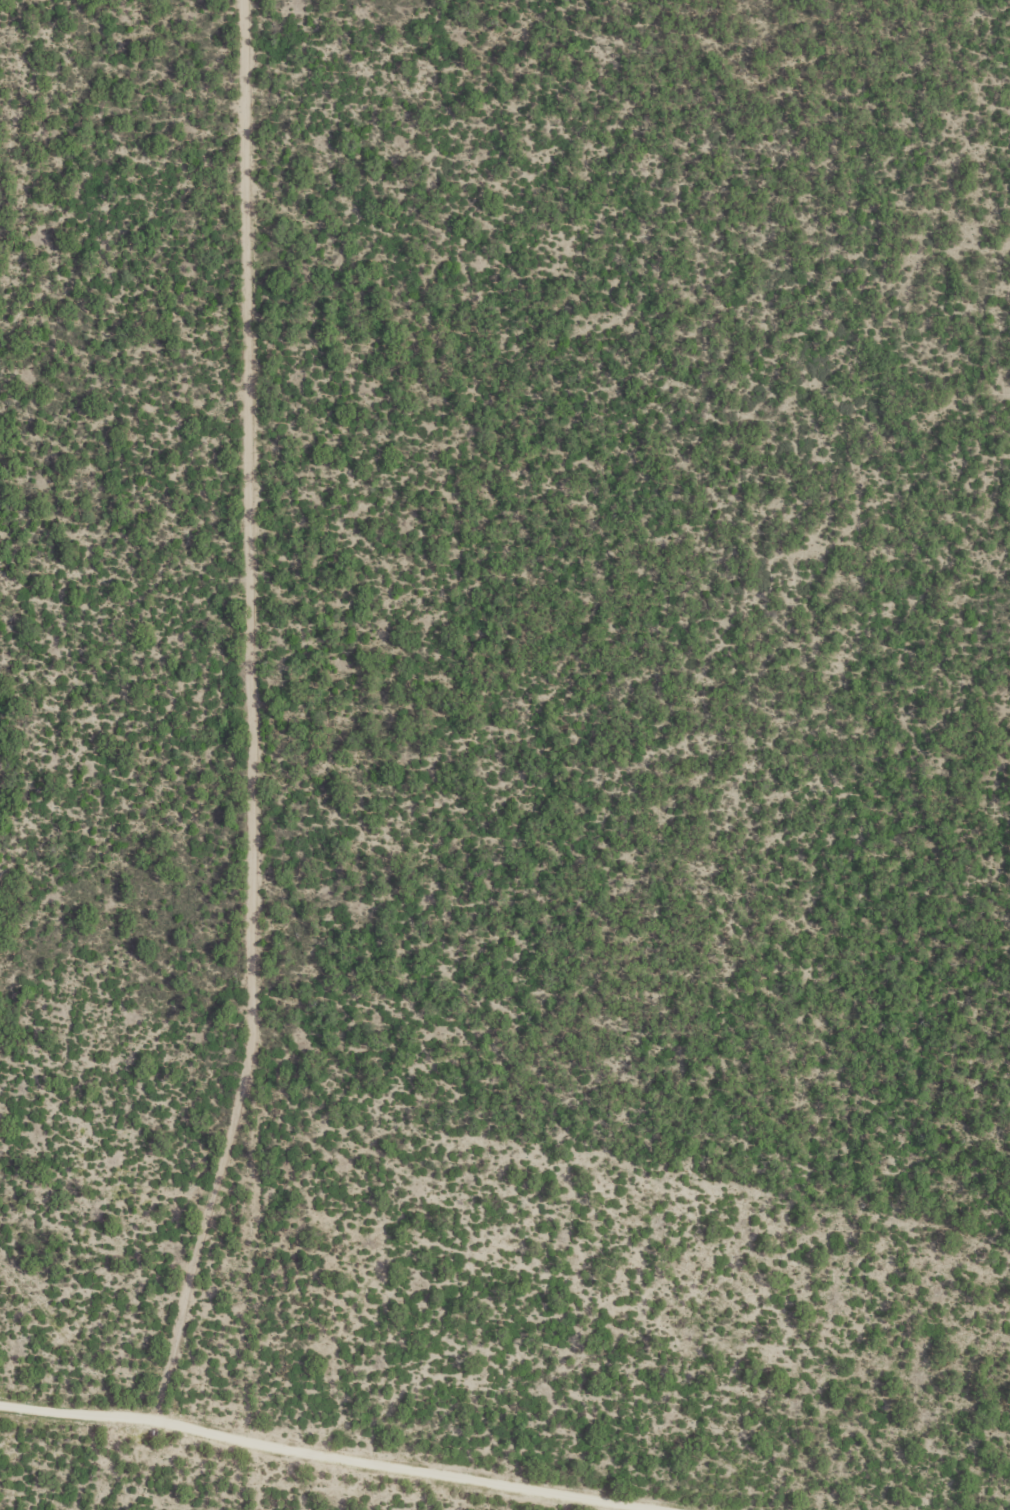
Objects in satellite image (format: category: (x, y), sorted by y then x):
road: (335, 1453)

